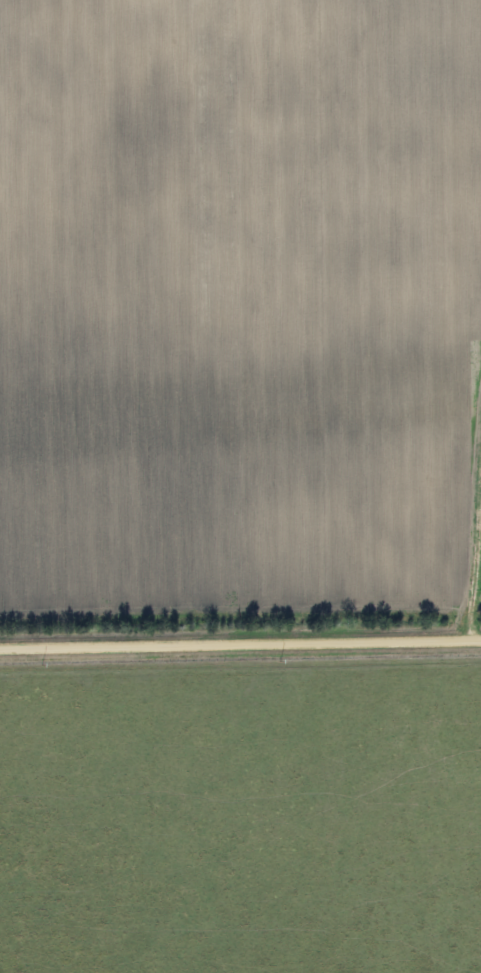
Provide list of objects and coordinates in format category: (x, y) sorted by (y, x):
road: (240, 643)

